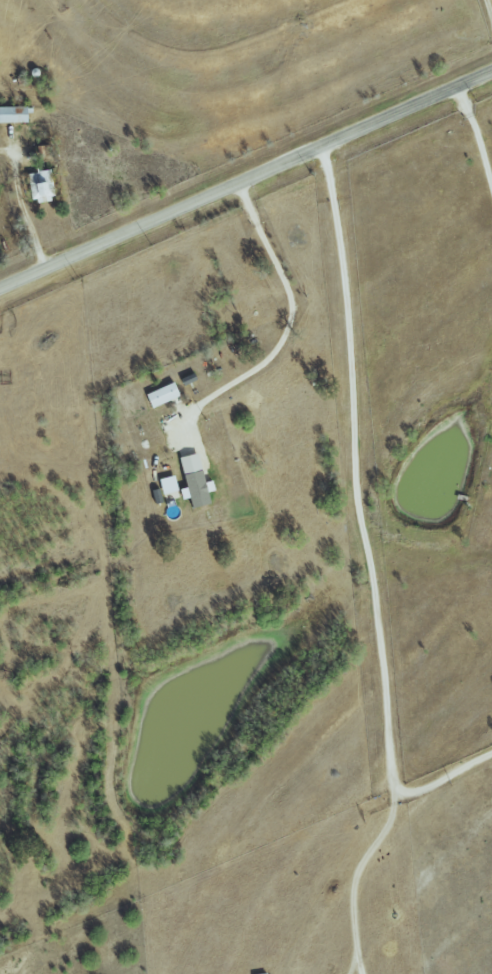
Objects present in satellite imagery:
road: (488, 10)
park: (485, 17)
building: (13, 114)
road: (474, 145)
road: (246, 179)
building: (34, 186)
road: (24, 218)
road: (291, 320)
building: (155, 395)
building: (189, 480)
road: (358, 519)
road: (355, 875)

